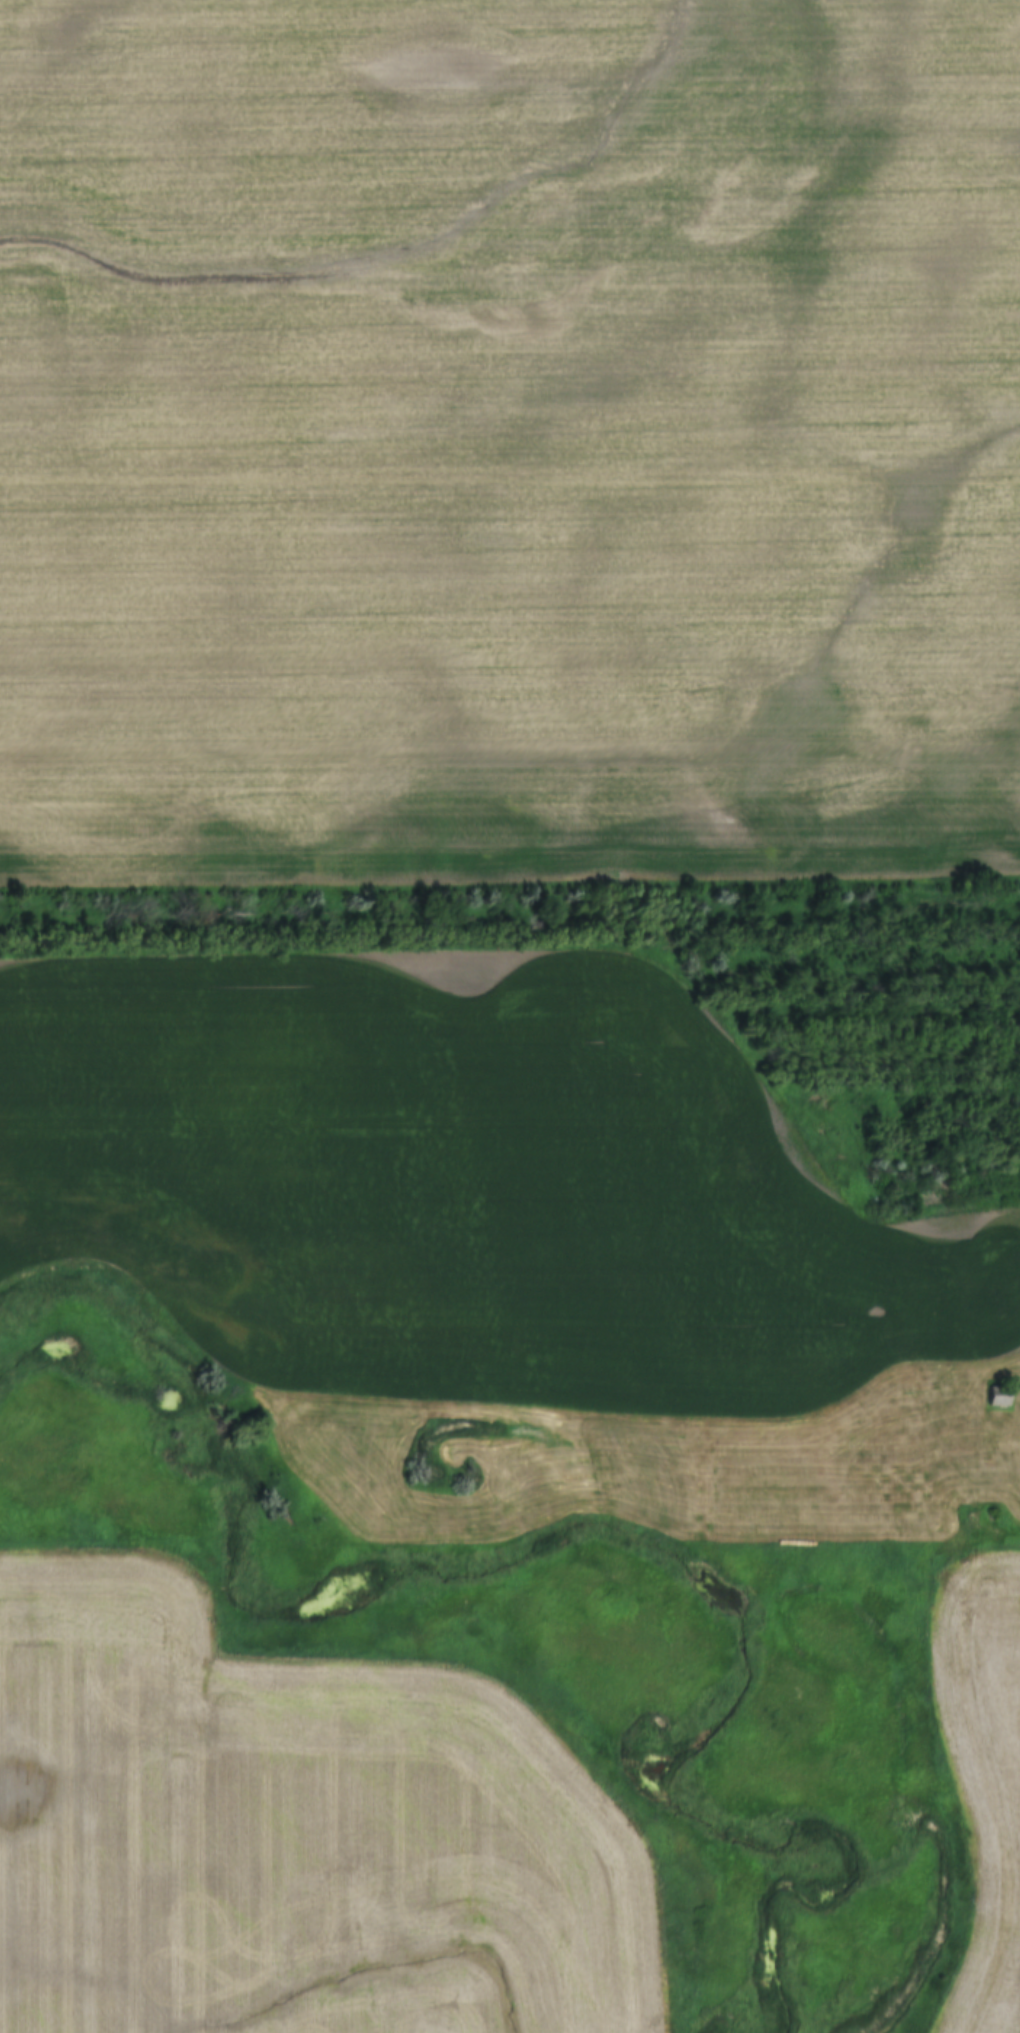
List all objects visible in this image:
building: (897, 1367)
building: (993, 1397)

